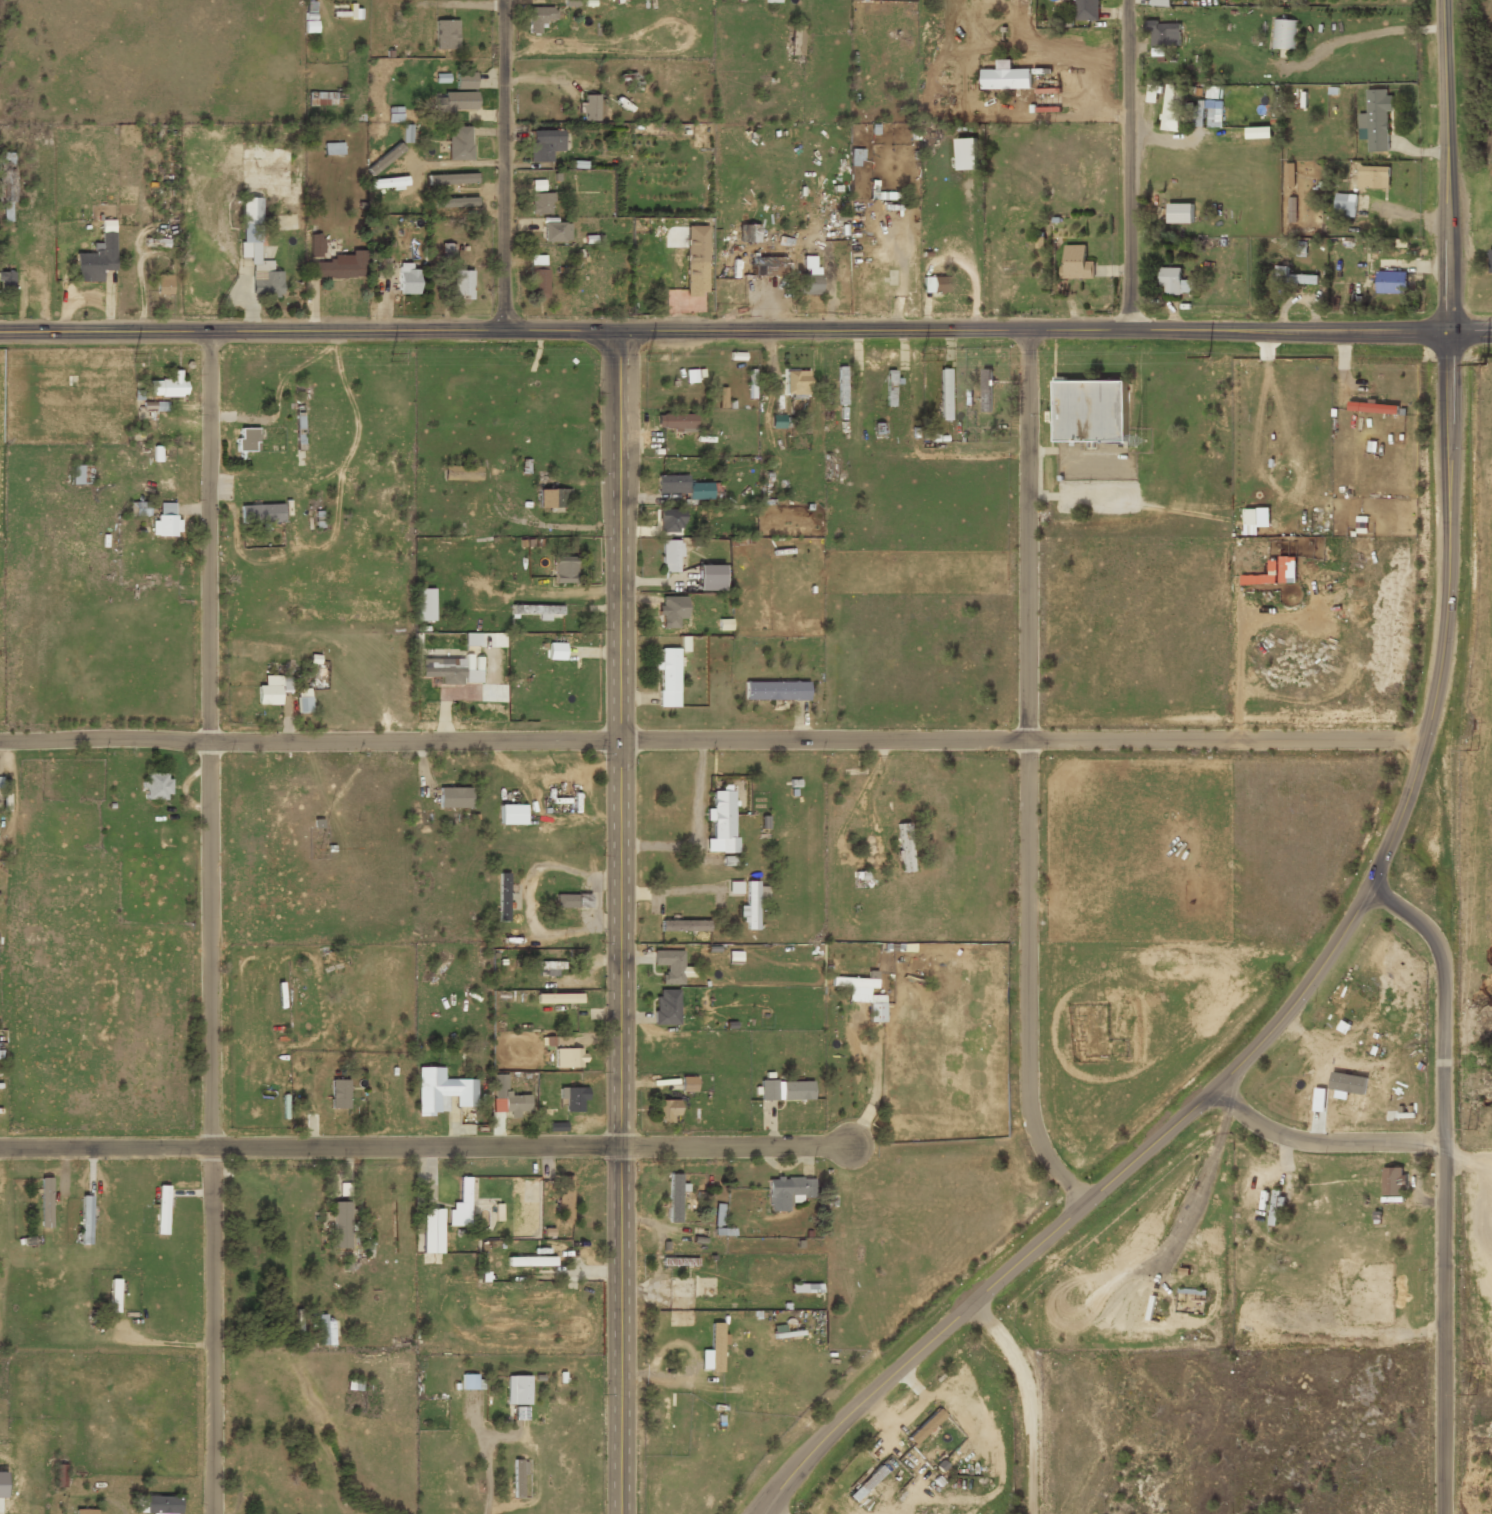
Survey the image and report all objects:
building: (771, 1)
building: (1162, 2)
building: (346, 10)
building: (1086, 10)
building: (538, 19)
building: (446, 34)
building: (1164, 34)
building: (1282, 35)
building: (795, 42)
building: (465, 80)
building: (1005, 80)
building: (1213, 92)
building: (1153, 93)
building: (326, 98)
building: (456, 101)
building: (589, 107)
building: (1171, 108)
building: (1207, 113)
building: (1376, 119)
building: (375, 129)
building: (406, 134)
building: (1259, 134)
building: (459, 143)
building: (544, 145)
building: (333, 148)
building: (277, 154)
building: (966, 155)
building: (855, 157)
building: (385, 158)
road: (506, 165)
road: (1132, 165)
building: (1289, 174)
building: (1374, 176)
building: (7, 177)
building: (451, 178)
building: (388, 182)
building: (456, 202)
building: (541, 203)
building: (1345, 204)
building: (1180, 212)
building: (556, 231)
building: (748, 233)
building: (316, 244)
building: (256, 253)
building: (96, 259)
building: (1491, 260)
building: (537, 261)
building: (1077, 262)
building: (337, 267)
building: (382, 267)
building: (766, 267)
building: (694, 273)
building: (807, 278)
building: (1295, 279)
building: (407, 280)
building: (1175, 281)
building: (1392, 281)
building: (462, 283)
building: (538, 283)
building: (6, 284)
building: (163, 285)
building: (935, 286)
road: (746, 331)
power tower: (134, 357)
power tower: (390, 357)
power tower: (920, 357)
power tower: (1207, 357)
power tower: (646, 358)
power tower: (1485, 364)
building: (795, 384)
building: (168, 385)
building: (841, 386)
building: (890, 389)
building: (985, 390)
building: (944, 395)
building: (721, 398)
building: (1374, 409)
building: (1090, 410)
building: (675, 422)
building: (299, 425)
building: (246, 441)
building: (699, 442)
road: (1074, 450)
road: (1448, 450)
building: (78, 474)
building: (461, 474)
building: (681, 487)
building: (549, 494)
building: (138, 510)
building: (262, 513)
building: (1251, 516)
building: (165, 521)
building: (670, 521)
building: (670, 557)
building: (563, 570)
building: (1271, 573)
building: (709, 578)
building: (423, 605)
building: (536, 610)
building: (671, 615)
building: (471, 640)
building: (555, 652)
building: (442, 669)
building: (472, 676)
building: (667, 678)
building: (270, 692)
building: (775, 692)
building: (304, 707)
road: (712, 739)
power tower: (1473, 751)
road: (1029, 774)
building: (0, 782)
building: (156, 787)
building: (454, 799)
building: (511, 815)
building: (721, 823)
building: (903, 849)
building: (735, 887)
building: (502, 898)
building: (571, 902)
building: (750, 906)
road: (619, 922)
road: (208, 923)
building: (683, 926)
building: (733, 957)
building: (669, 966)
building: (547, 970)
building: (852, 983)
building: (558, 999)
building: (666, 1008)
building: (875, 1013)
building: (561, 1041)
building: (568, 1059)
road: (1244, 1059)
building: (687, 1085)
building: (1361, 1086)
building: (786, 1091)
building: (442, 1092)
building: (338, 1099)
building: (572, 1099)
building: (508, 1101)
building: (666, 1112)
power tower: (1470, 1129)
road: (1321, 1142)
road: (423, 1145)
building: (1393, 1182)
road: (1444, 1184)
building: (785, 1192)
building: (672, 1198)
building: (564, 1200)
building: (44, 1204)
building: (460, 1206)
building: (162, 1209)
building: (1274, 1209)
building: (717, 1215)
building: (86, 1220)
building: (341, 1226)
building: (430, 1232)
building: (529, 1262)
building: (668, 1263)
building: (680, 1288)
building: (804, 1288)
building: (722, 1293)
building: (114, 1297)
building: (325, 1332)
building: (713, 1351)
road: (917, 1352)
building: (468, 1382)
building: (517, 1392)
power tower: (1471, 1395)
road: (1028, 1400)
building: (925, 1426)
building: (59, 1477)
building: (516, 1479)
building: (2, 1484)
building: (275, 1485)
building: (158, 1505)
road: (768, 1511)
building: (85, 1512)

